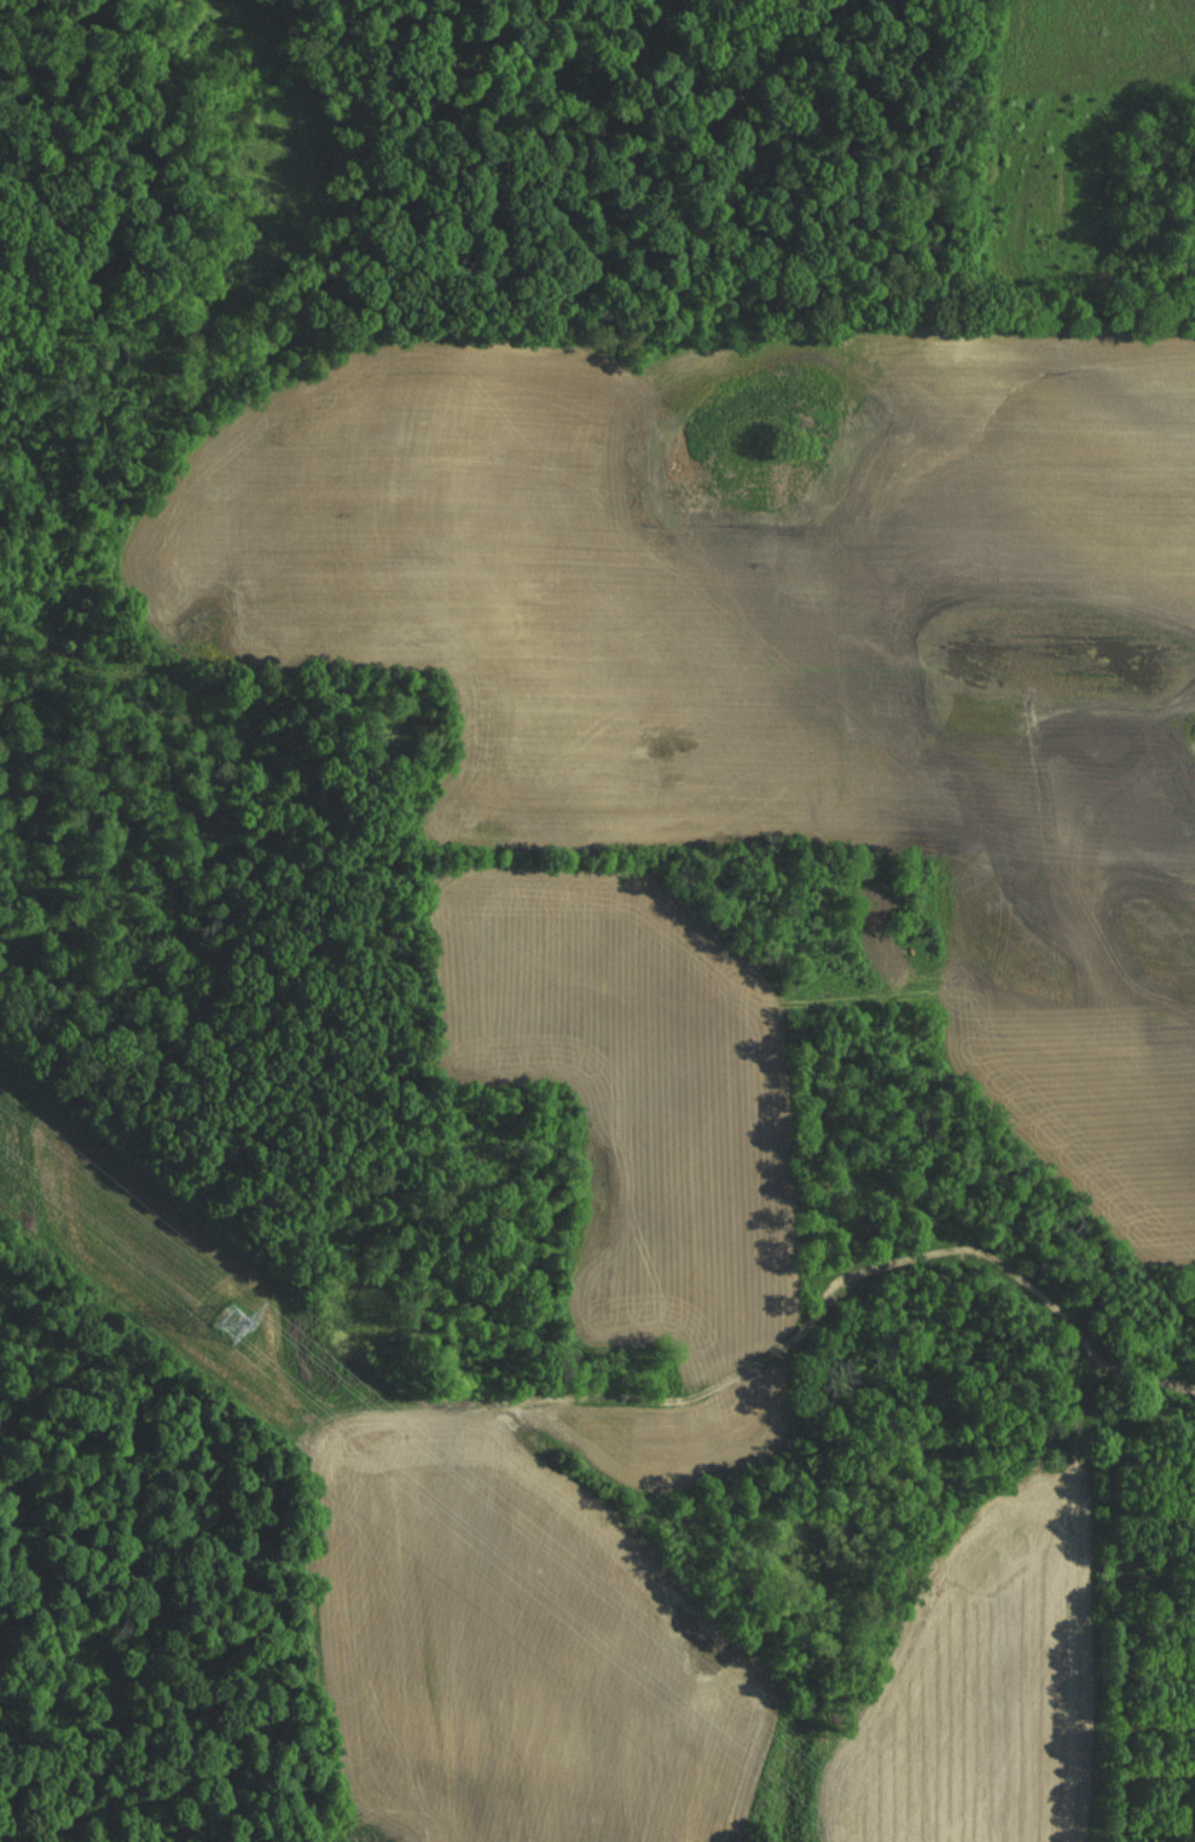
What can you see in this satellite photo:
power tower: (230, 1326)

